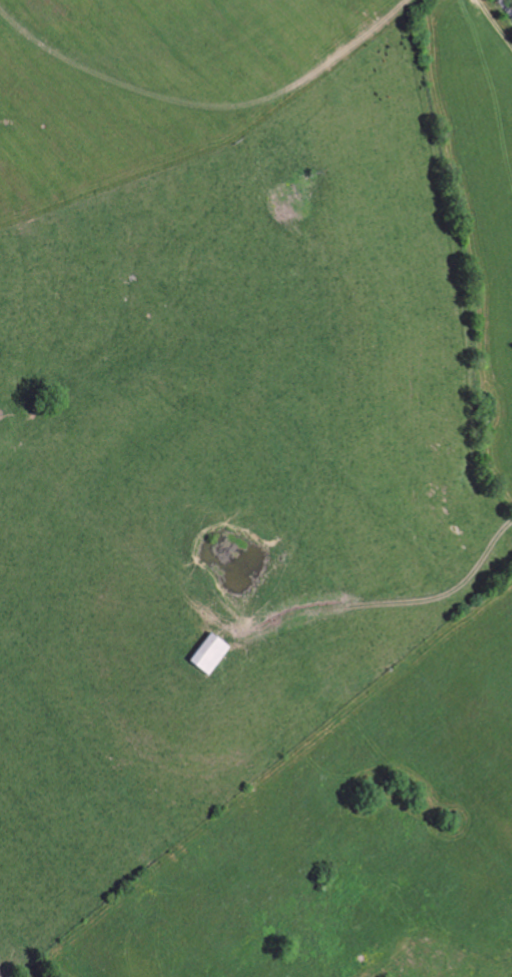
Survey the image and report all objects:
road: (507, 5)
building: (208, 654)

